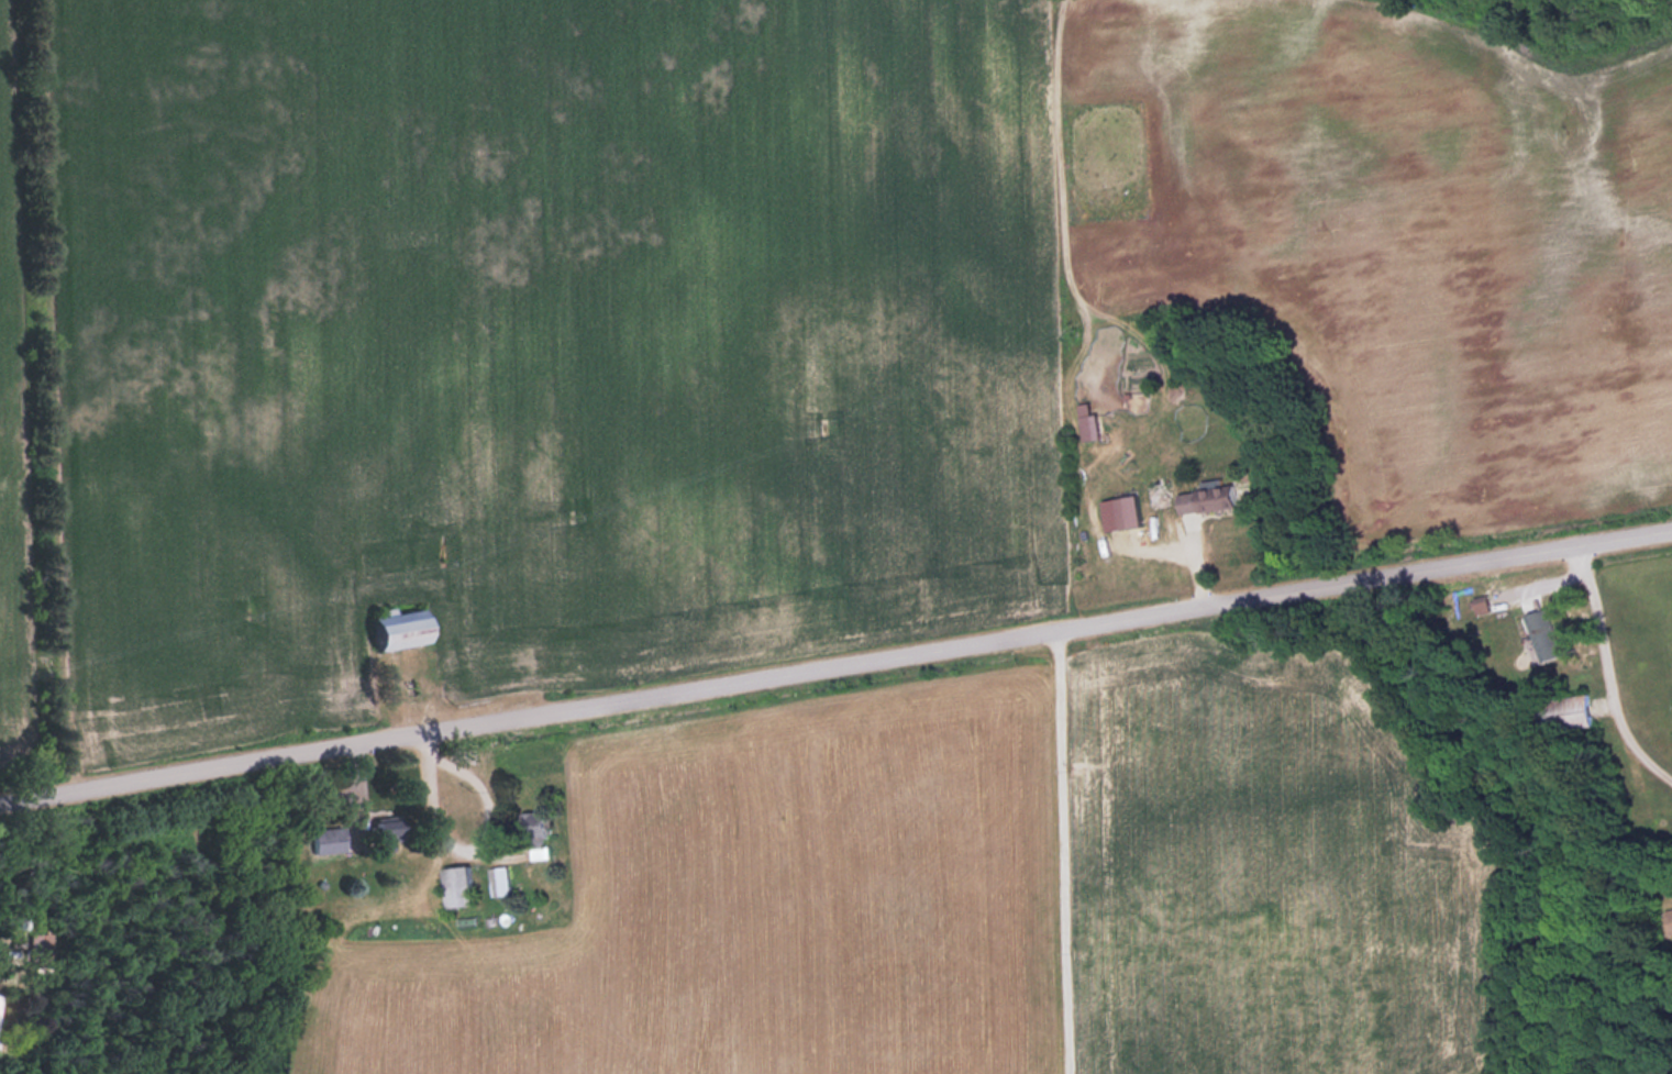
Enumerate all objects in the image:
building: (1094, 422)
building: (1210, 498)
building: (1134, 510)
building: (406, 628)
building: (1543, 634)
road: (835, 671)
road: (1608, 674)
building: (1575, 710)
building: (540, 827)
building: (394, 829)
building: (329, 840)
road: (1065, 854)
building: (502, 879)
building: (465, 885)

